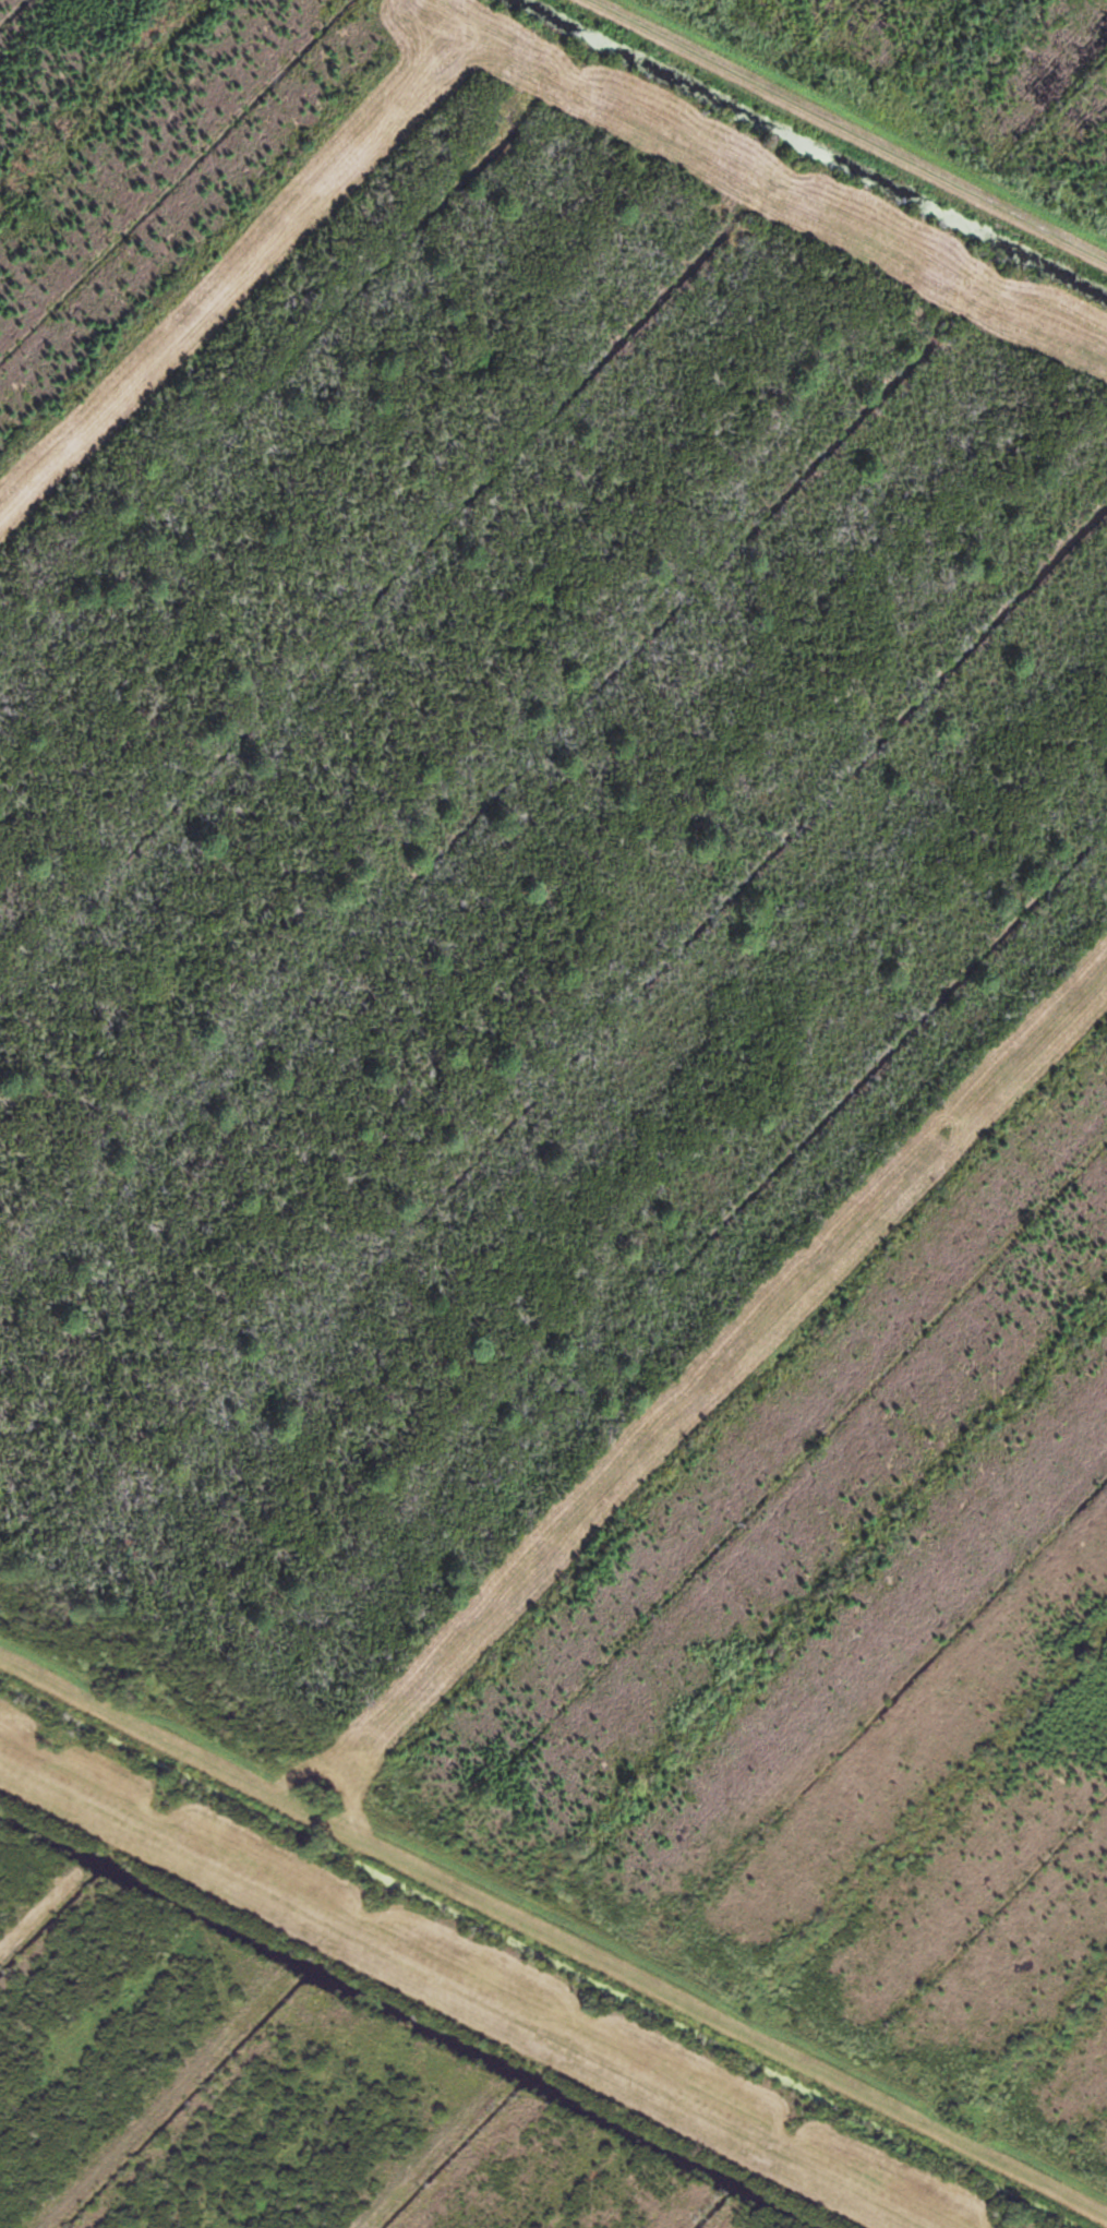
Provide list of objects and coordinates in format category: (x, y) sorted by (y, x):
road: (835, 131)
road: (552, 1936)

